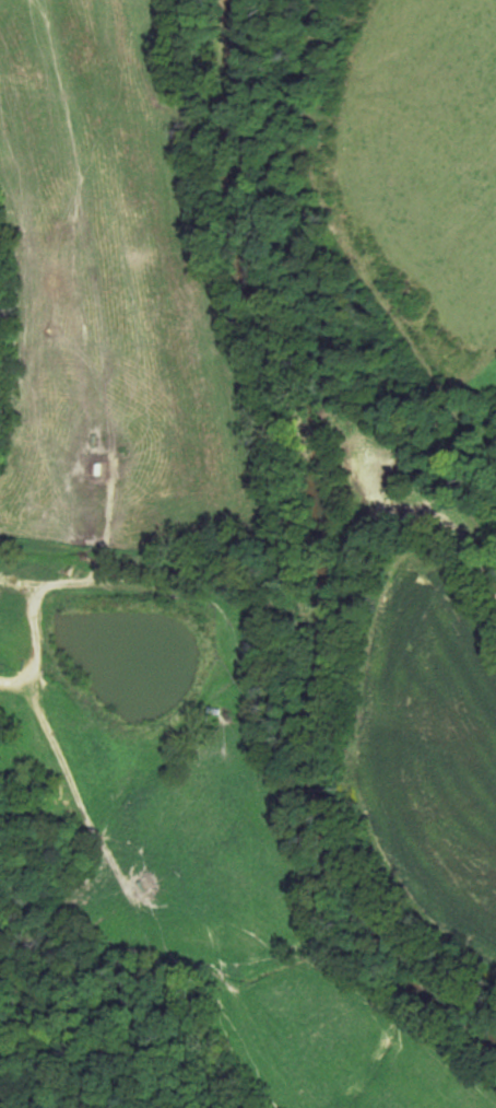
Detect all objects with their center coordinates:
road: (273, 604)

